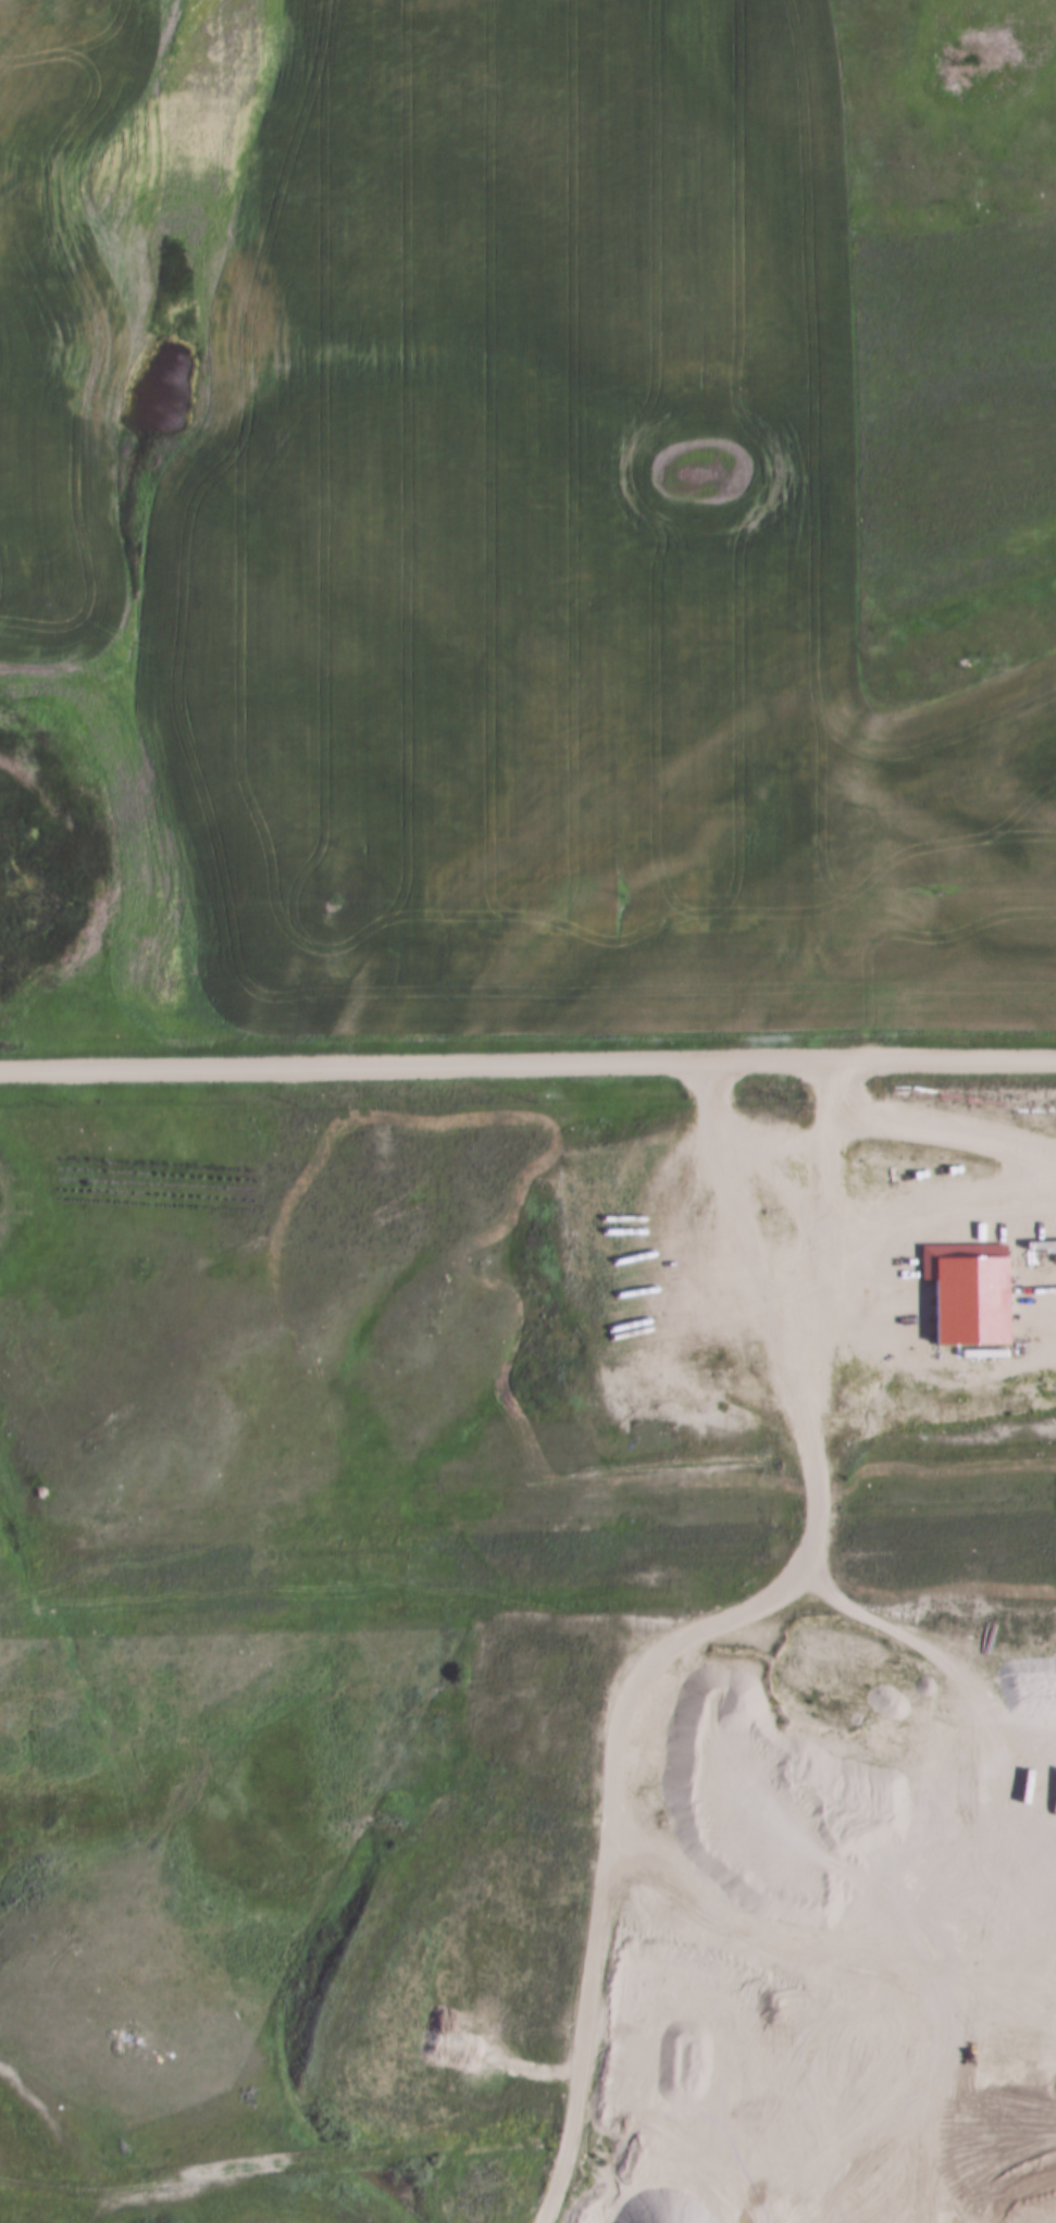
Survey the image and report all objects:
road: (527, 1065)
quarry: (867, 2052)
quarry: (247, 2198)

